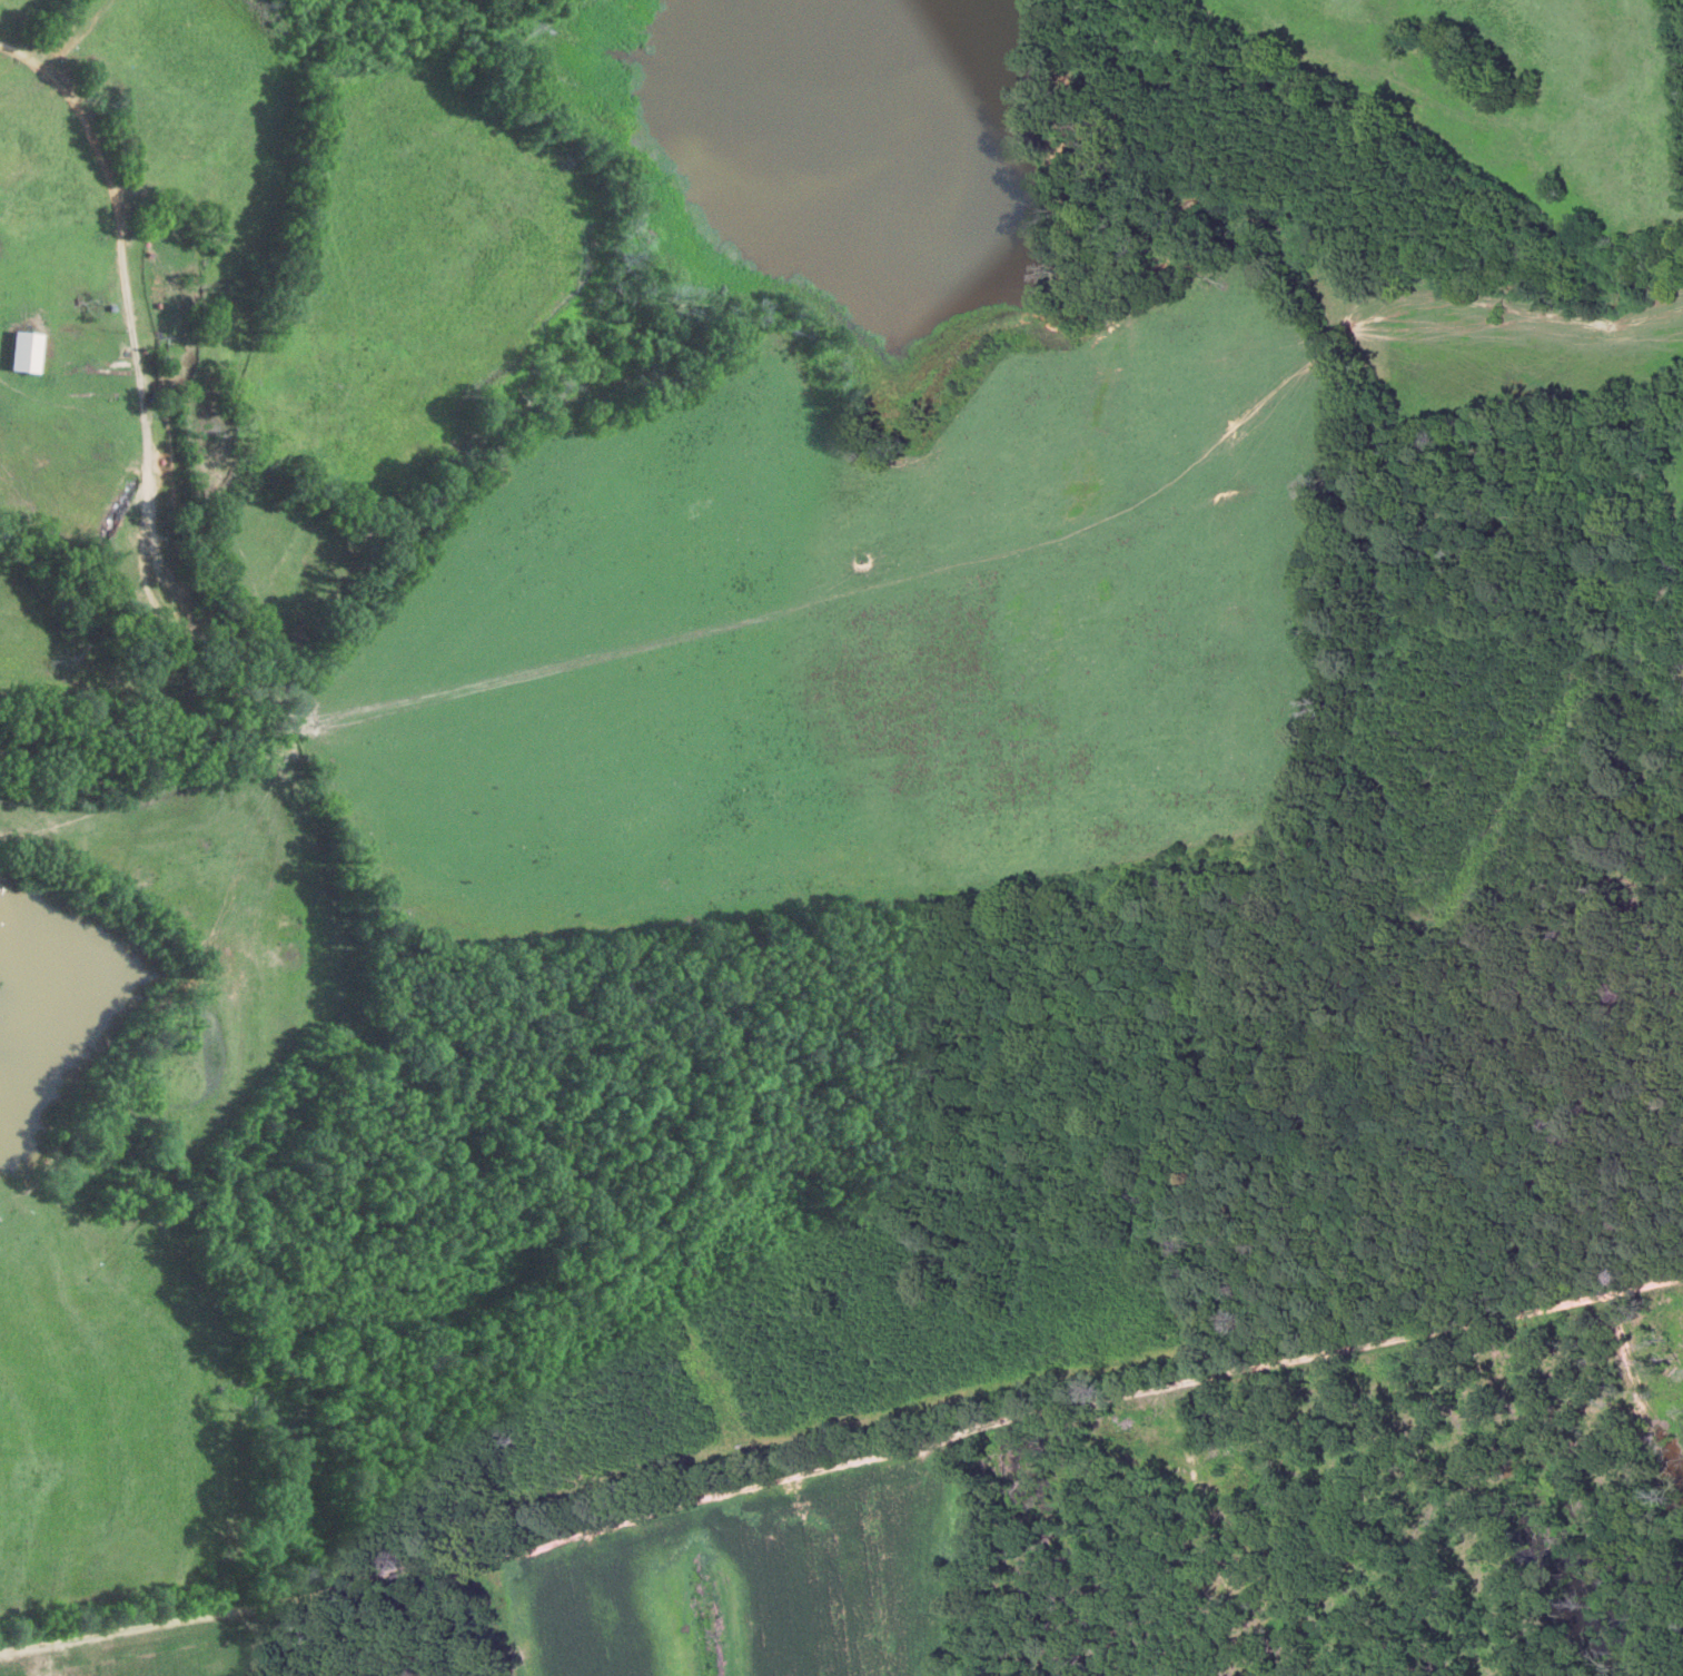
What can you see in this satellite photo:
road: (51, 30)
building: (81, 345)
building: (22, 354)
road: (320, 1359)

